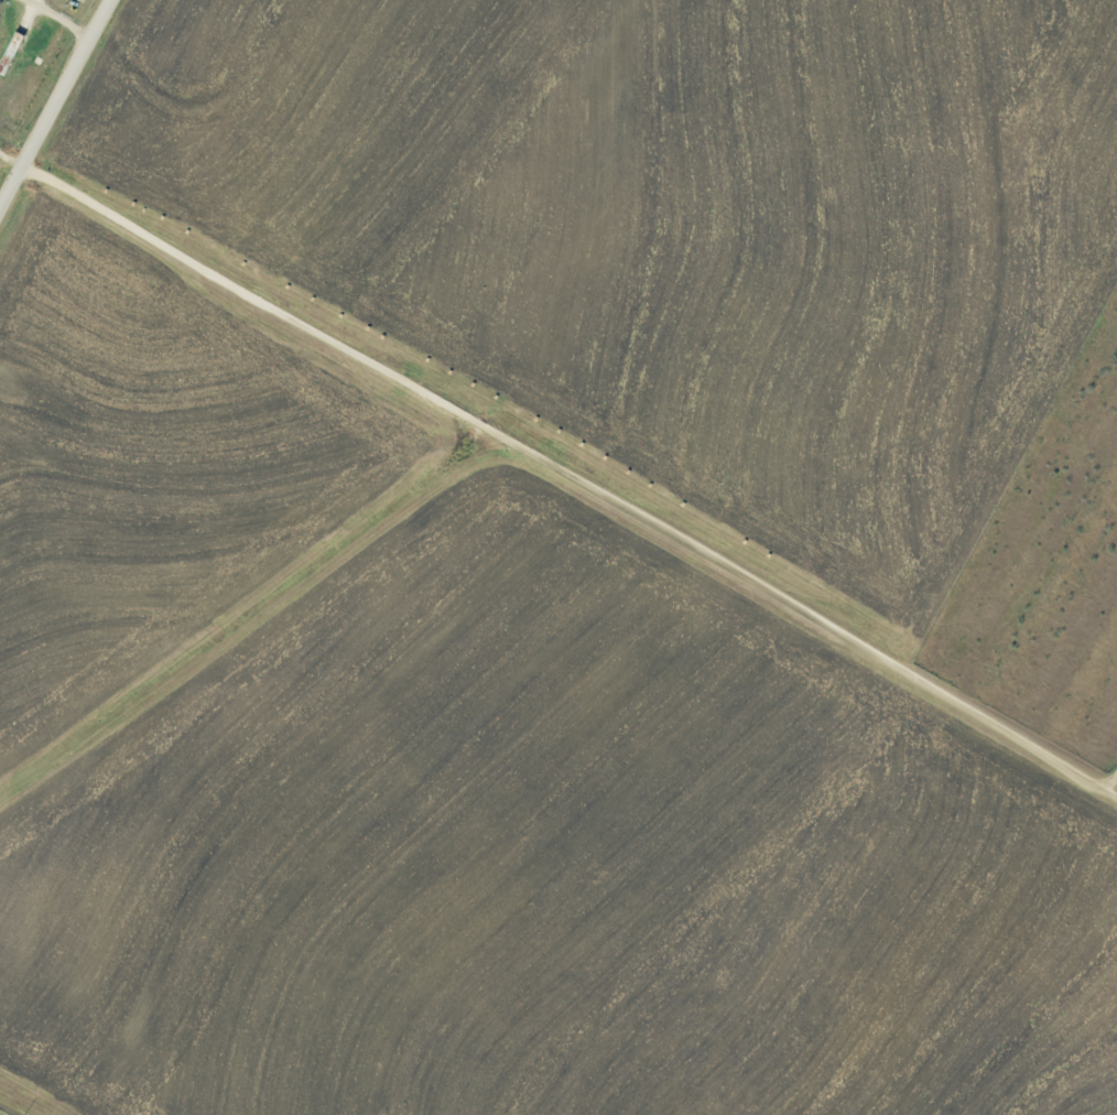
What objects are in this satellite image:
road: (47, 23)
road: (56, 107)
road: (12, 159)
road: (574, 475)
road: (1111, 779)

